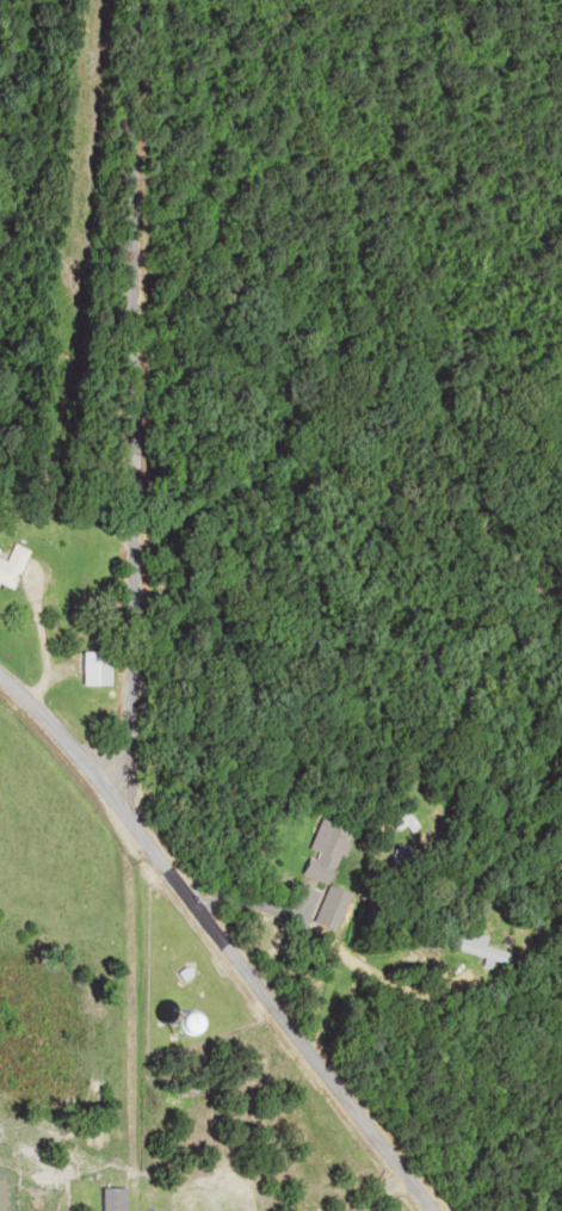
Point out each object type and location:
road: (149, 322)
building: (10, 566)
road: (70, 648)
building: (92, 668)
road: (143, 755)
building: (323, 850)
building: (480, 947)
road: (208, 948)
building: (168, 1019)
road: (142, 1038)
building: (105, 1198)

